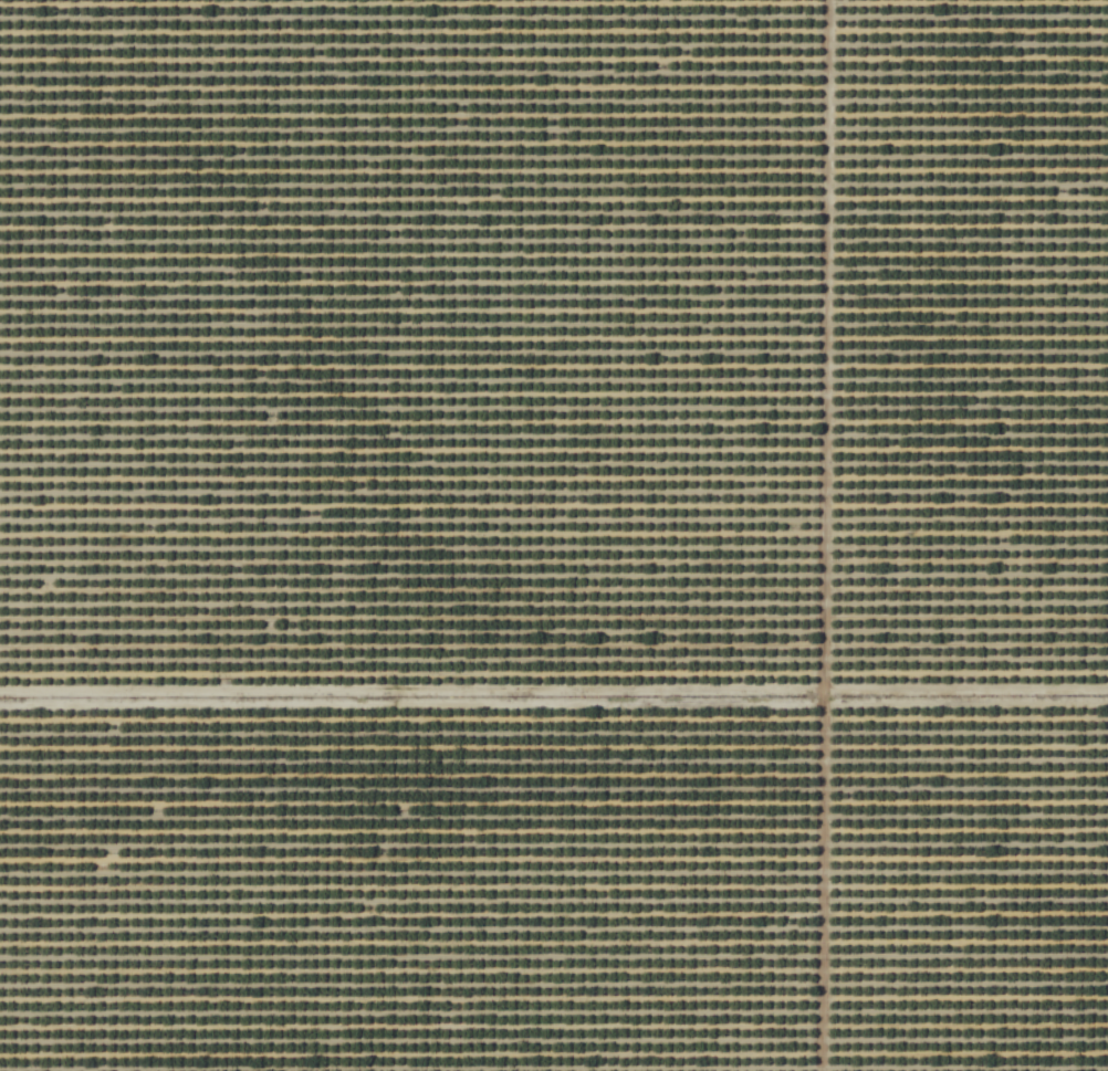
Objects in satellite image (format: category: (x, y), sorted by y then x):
road: (819, 535)
road: (553, 695)

